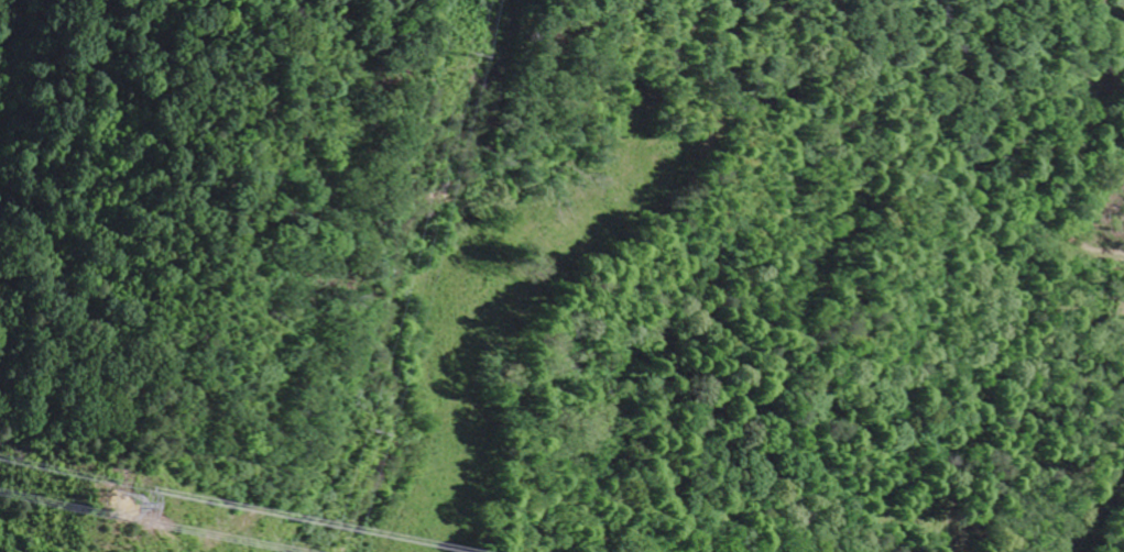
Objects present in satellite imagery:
power tower: (120, 504)

